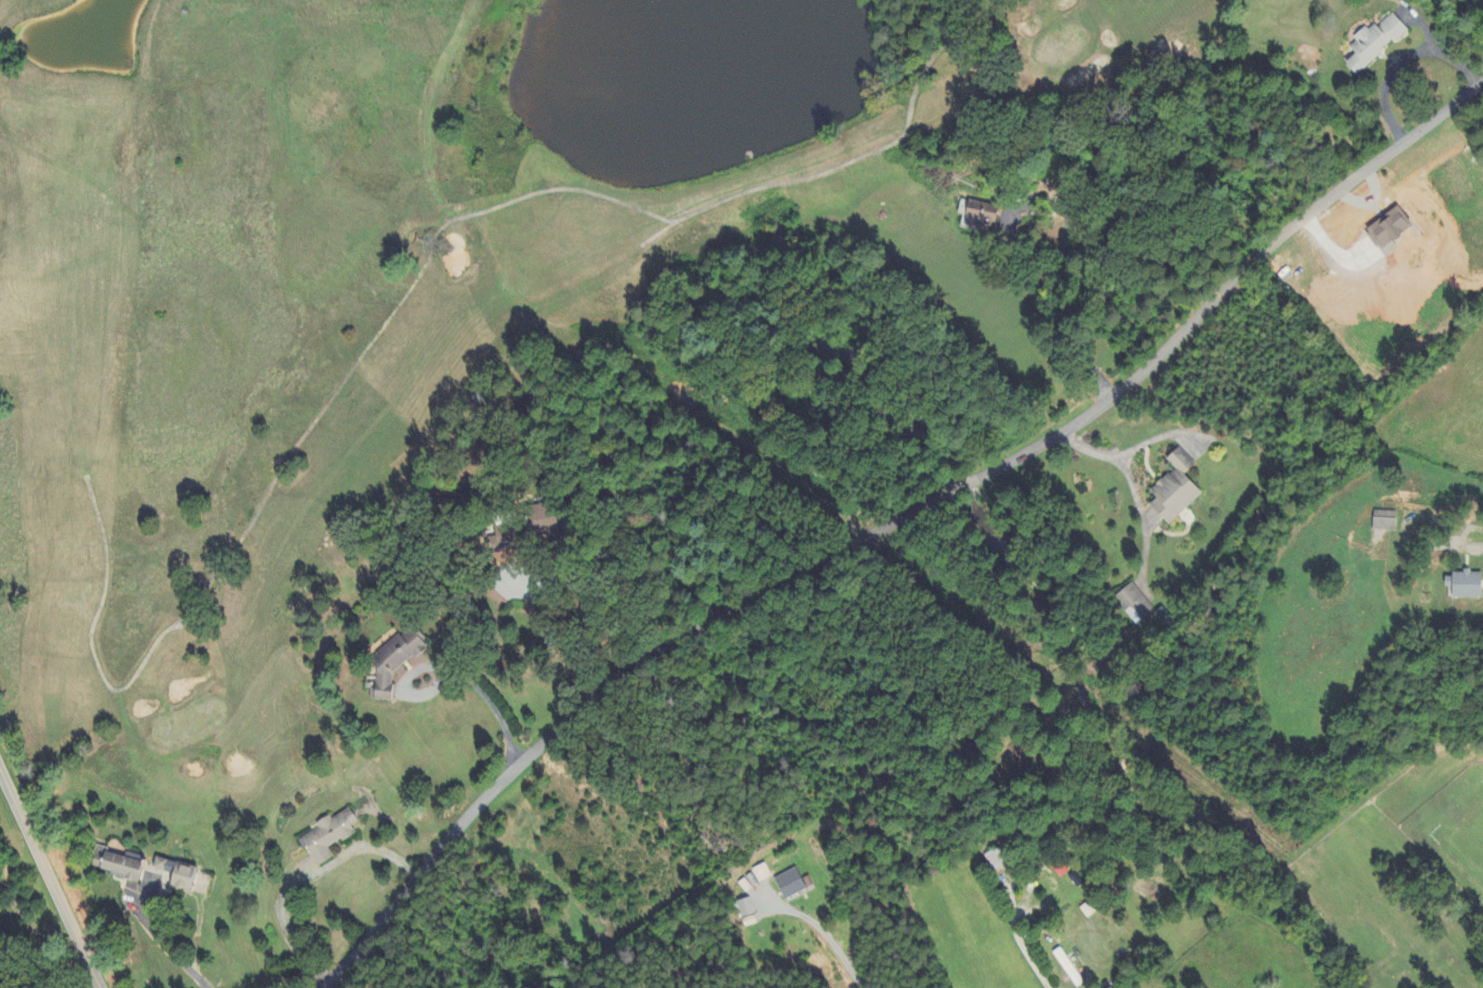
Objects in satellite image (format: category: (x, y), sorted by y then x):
road: (1403, 60)
road: (1007, 241)
road: (1116, 459)
road: (888, 521)
road: (582, 588)
road: (453, 674)
road: (48, 881)
road: (164, 942)
road: (833, 942)
road: (1029, 954)

